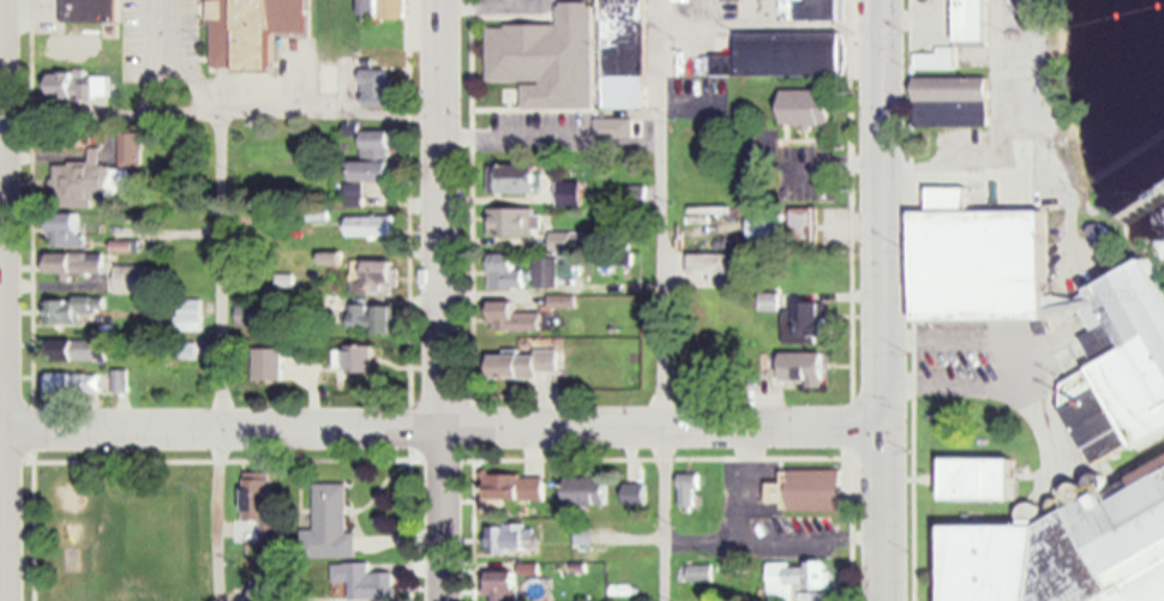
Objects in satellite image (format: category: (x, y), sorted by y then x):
building: (86, 8)
building: (392, 8)
building: (822, 10)
building: (972, 20)
building: (245, 25)
building: (354, 26)
building: (70, 47)
building: (623, 54)
building: (782, 54)
road: (161, 58)
building: (547, 58)
parking lot: (203, 62)
building: (326, 76)
building: (77, 85)
building: (376, 86)
building: (952, 102)
building: (806, 107)
road: (223, 115)
building: (613, 127)
building: (130, 150)
building: (370, 164)
building: (514, 178)
building: (78, 184)
power tower: (1090, 193)
building: (632, 197)
dam: (1139, 199)
building: (517, 221)
building: (802, 224)
building: (370, 226)
building: (762, 226)
building: (65, 230)
building: (76, 263)
building: (716, 266)
building: (505, 271)
building: (545, 271)
building: (374, 277)
building: (132, 278)
road: (2, 300)
road: (442, 300)
road: (659, 300)
road: (886, 300)
building: (769, 301)
building: (77, 307)
building: (251, 314)
building: (1052, 314)
building: (186, 315)
building: (511, 317)
building: (372, 318)
building: (803, 321)
building: (72, 349)
building: (182, 350)
building: (353, 356)
road: (216, 357)
building: (265, 363)
building: (524, 363)
building: (802, 367)
building: (72, 383)
road: (443, 429)
building: (980, 479)
building: (514, 487)
building: (584, 491)
building: (688, 491)
building: (806, 491)
building: (634, 494)
building: (257, 497)
building: (329, 525)
building: (509, 540)
building: (1068, 549)
building: (697, 573)
building: (794, 578)
building: (359, 582)
building: (503, 585)

